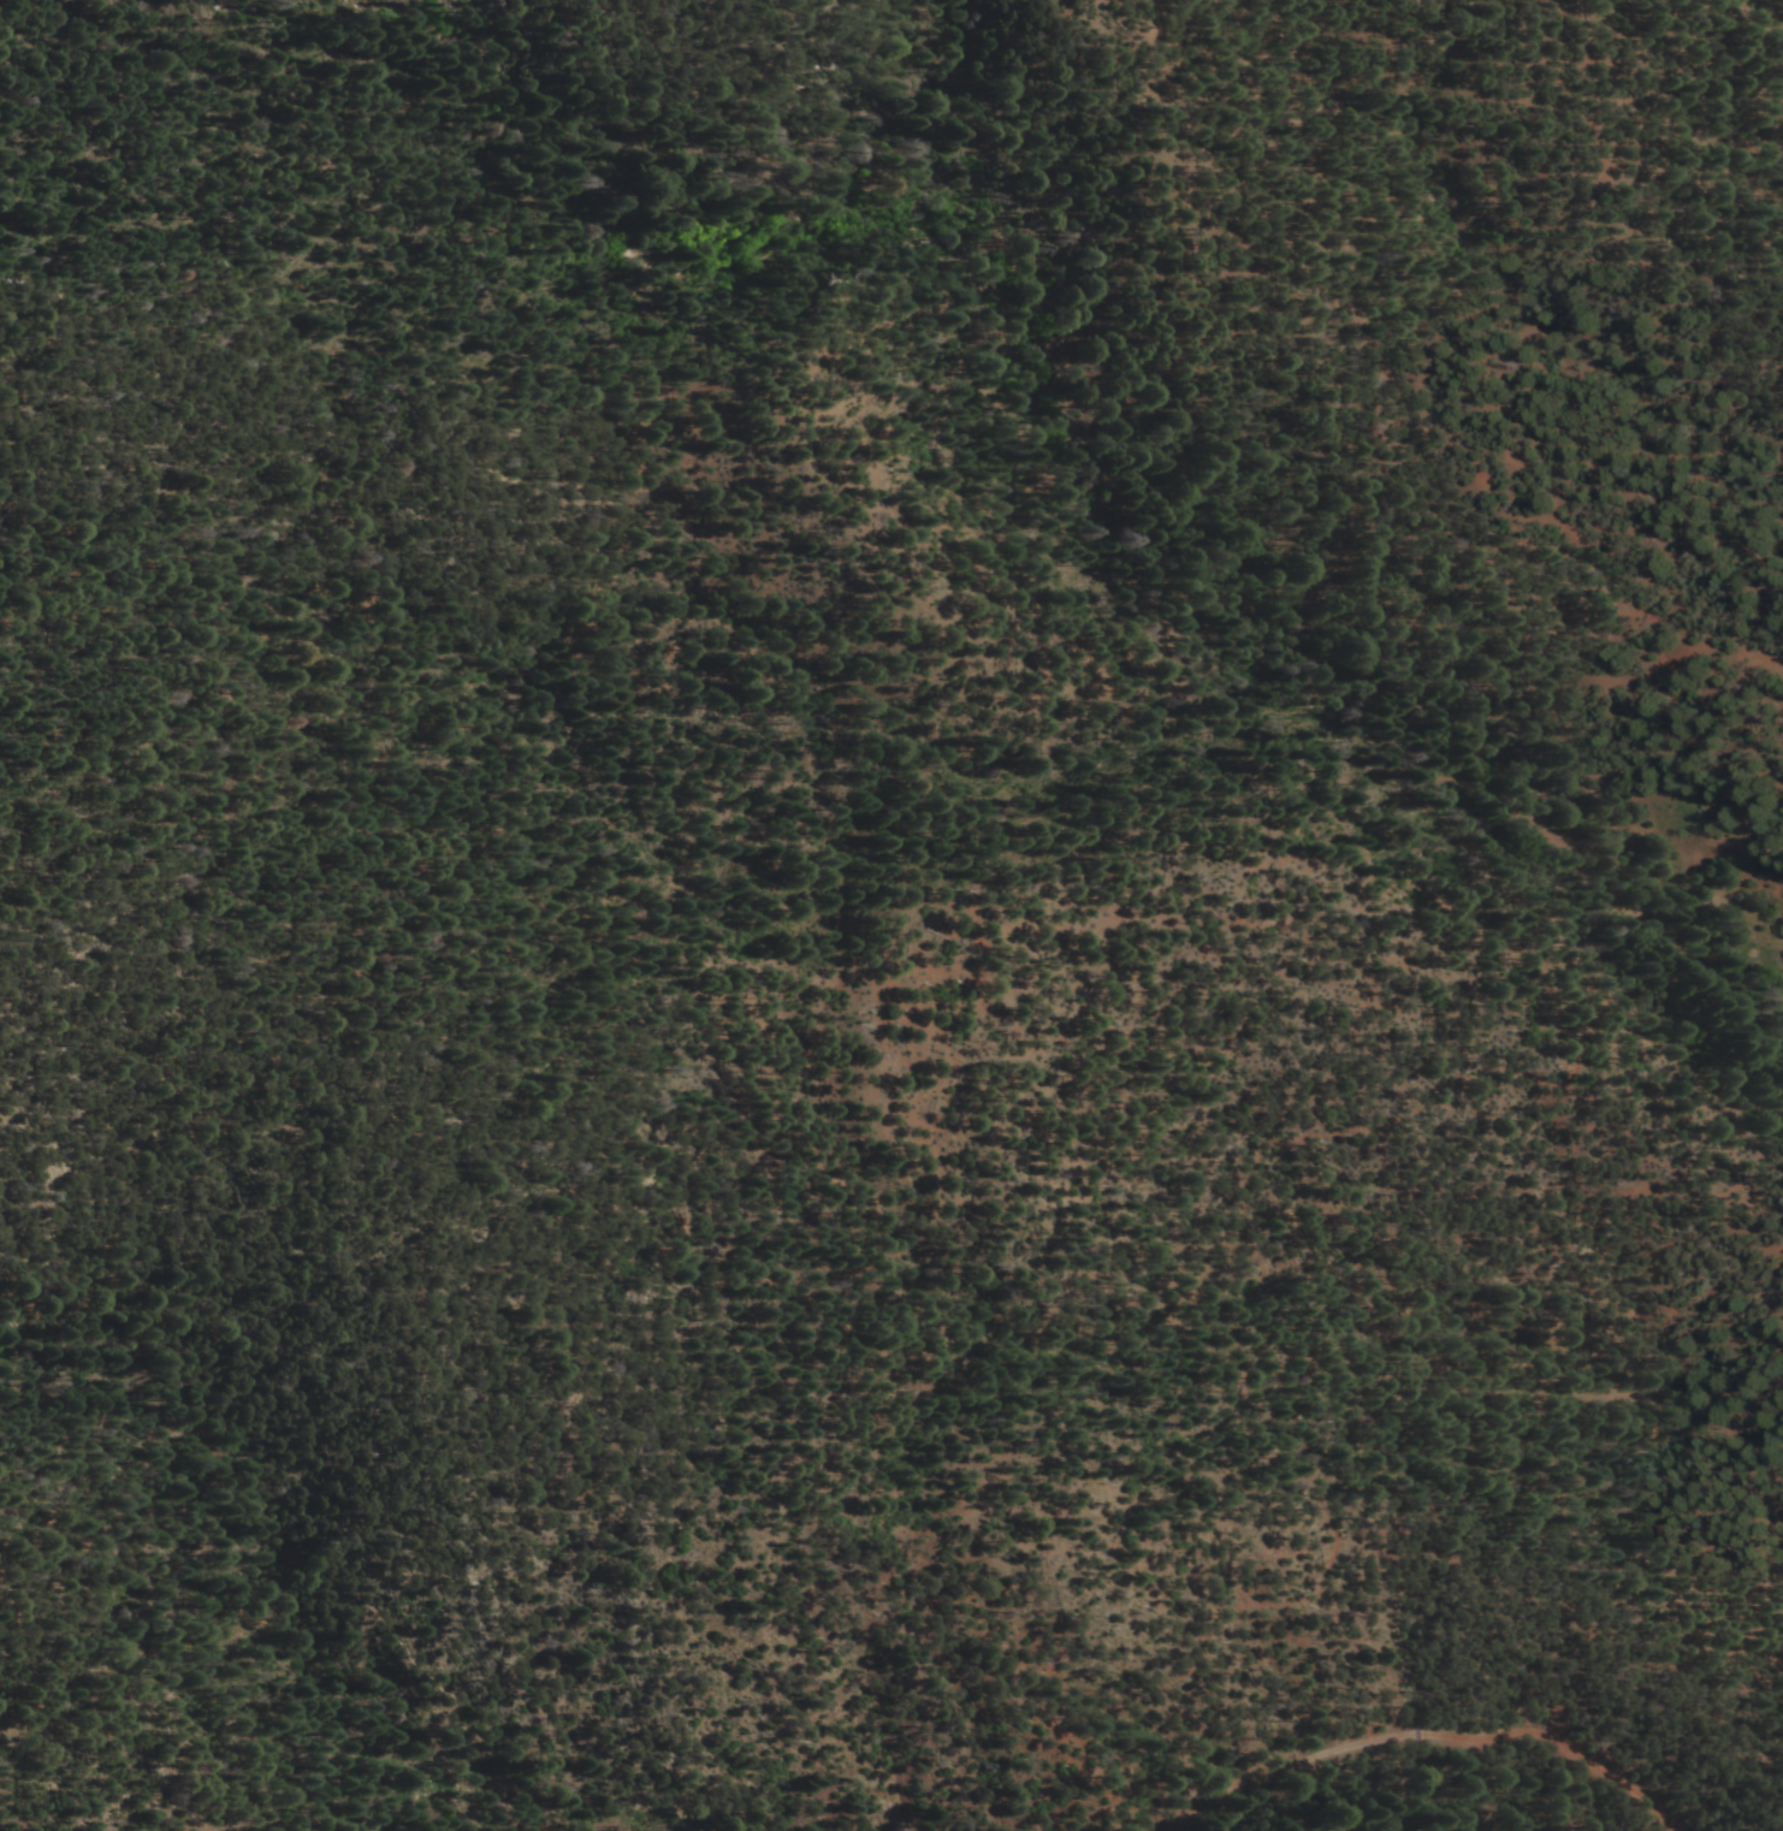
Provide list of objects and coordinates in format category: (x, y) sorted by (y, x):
road: (622, 1)
road: (693, 65)
road: (1375, 372)
road: (535, 764)
road: (1554, 1001)
road: (321, 1435)
road: (206, 1558)
road: (1426, 1730)

